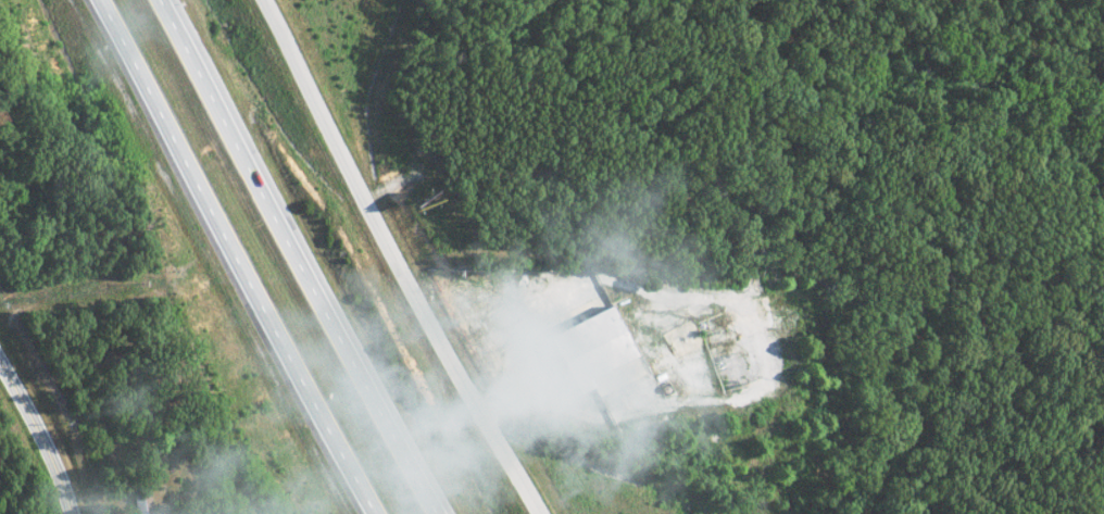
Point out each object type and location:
road: (237, 256)
road: (294, 256)
road: (394, 259)
building: (588, 348)
building: (626, 400)
road: (39, 437)

